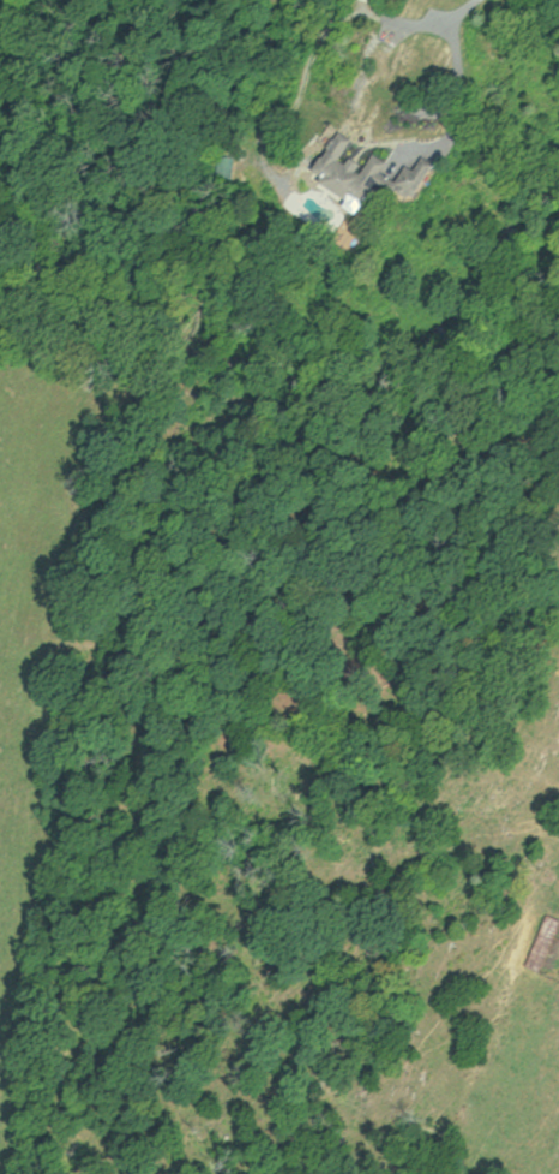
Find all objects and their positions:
road: (445, 35)
building: (368, 174)
road: (433, 801)
building: (547, 944)

